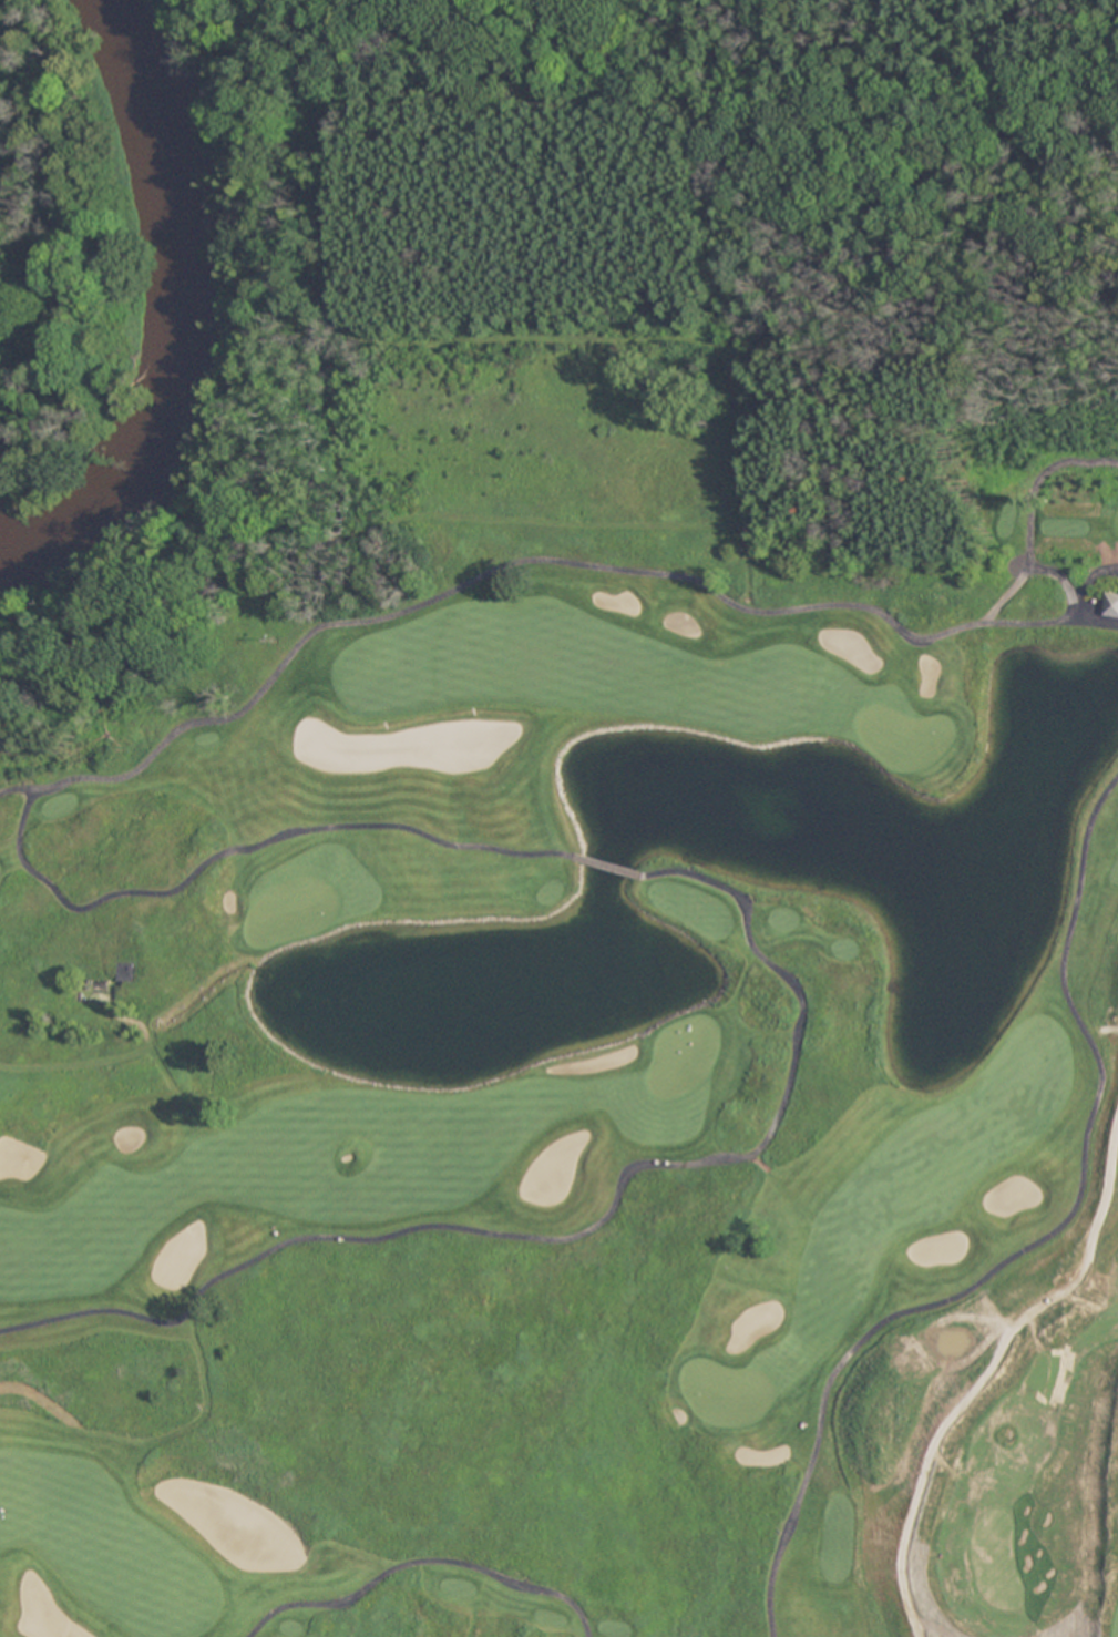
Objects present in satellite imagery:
river: (201, 321)
building: (1111, 604)
road: (259, 693)
park: (905, 736)
road: (607, 867)
park: (595, 953)
road: (576, 1232)
road: (1030, 1247)
road: (420, 1562)

